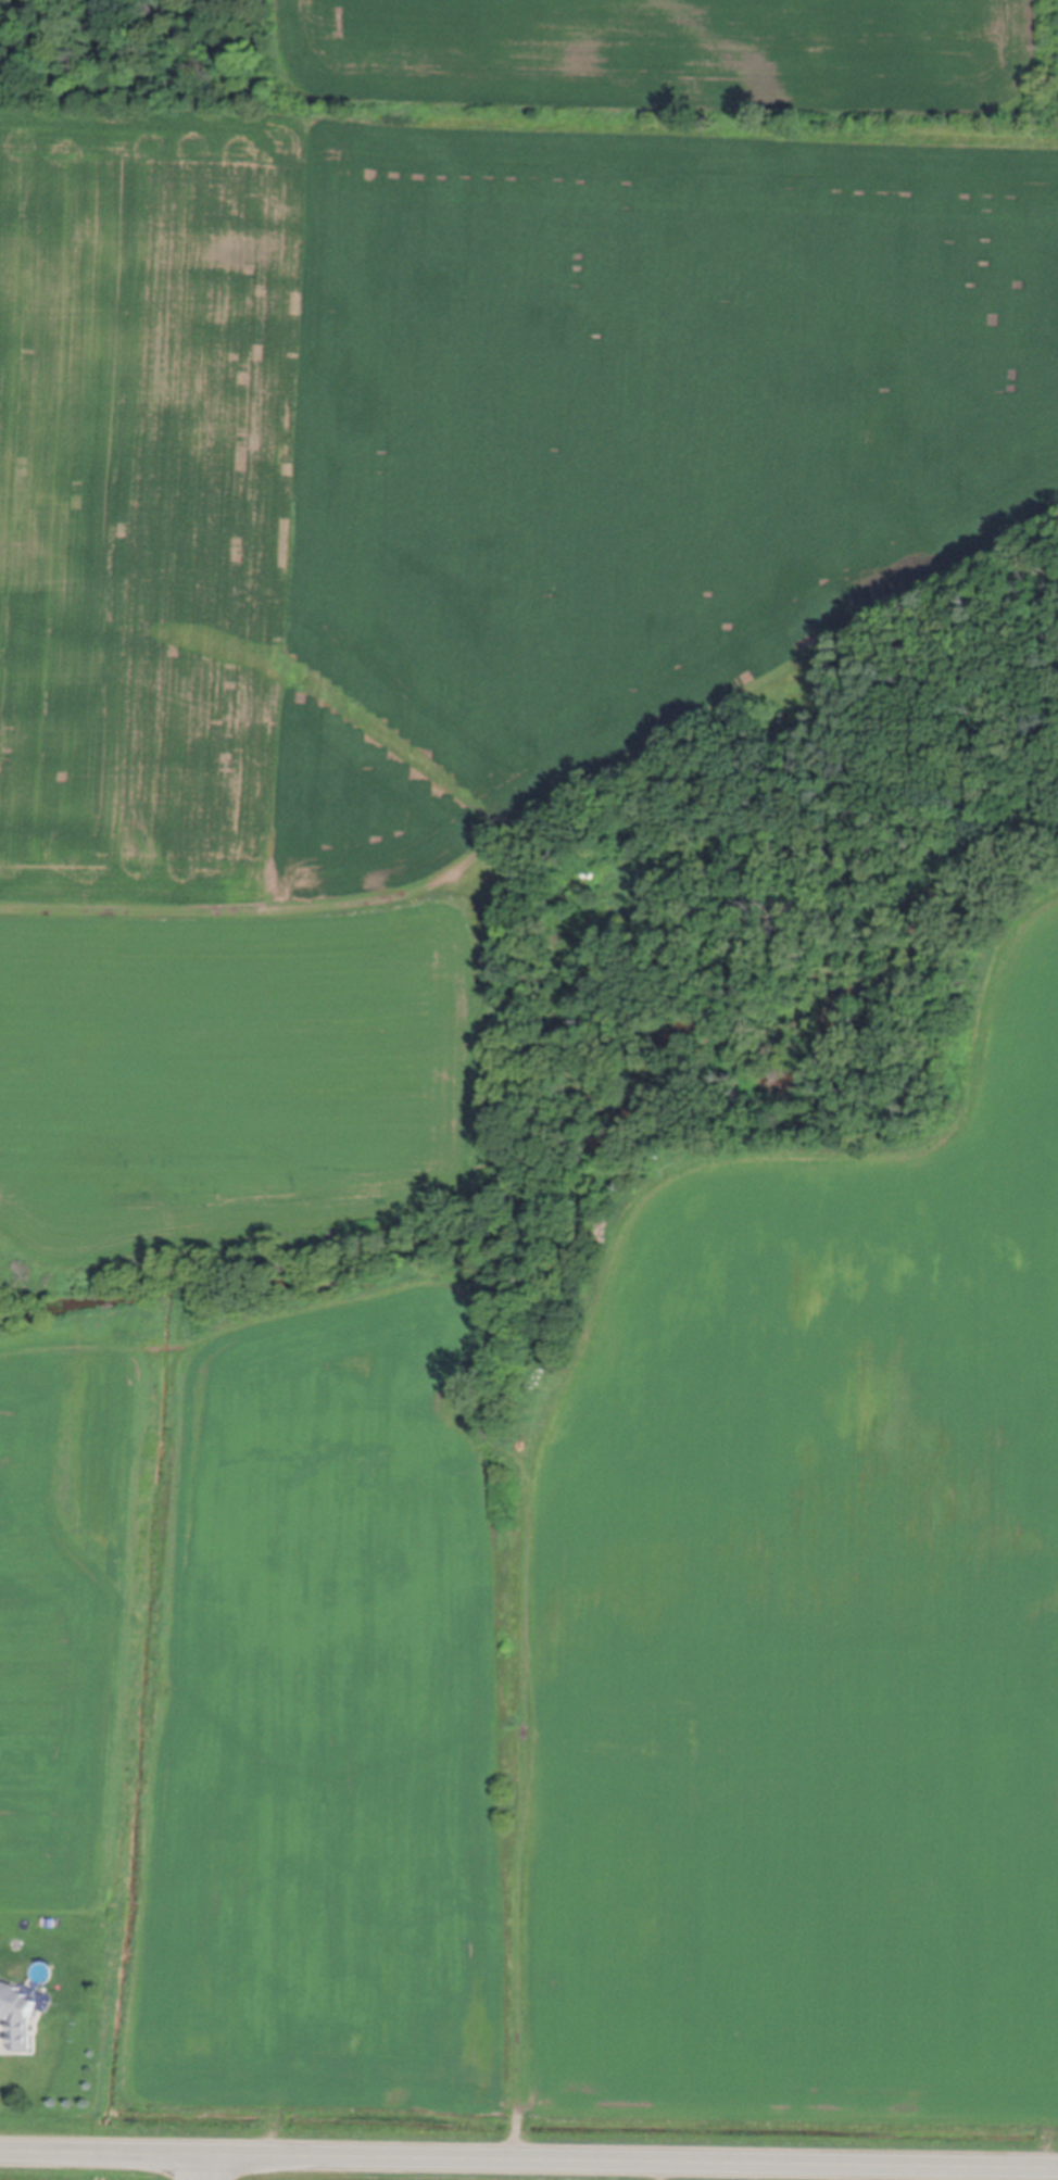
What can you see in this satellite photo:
building: (51, 1920)
building: (17, 2009)
road: (528, 2163)
road: (209, 2169)
road: (1047, 2175)

